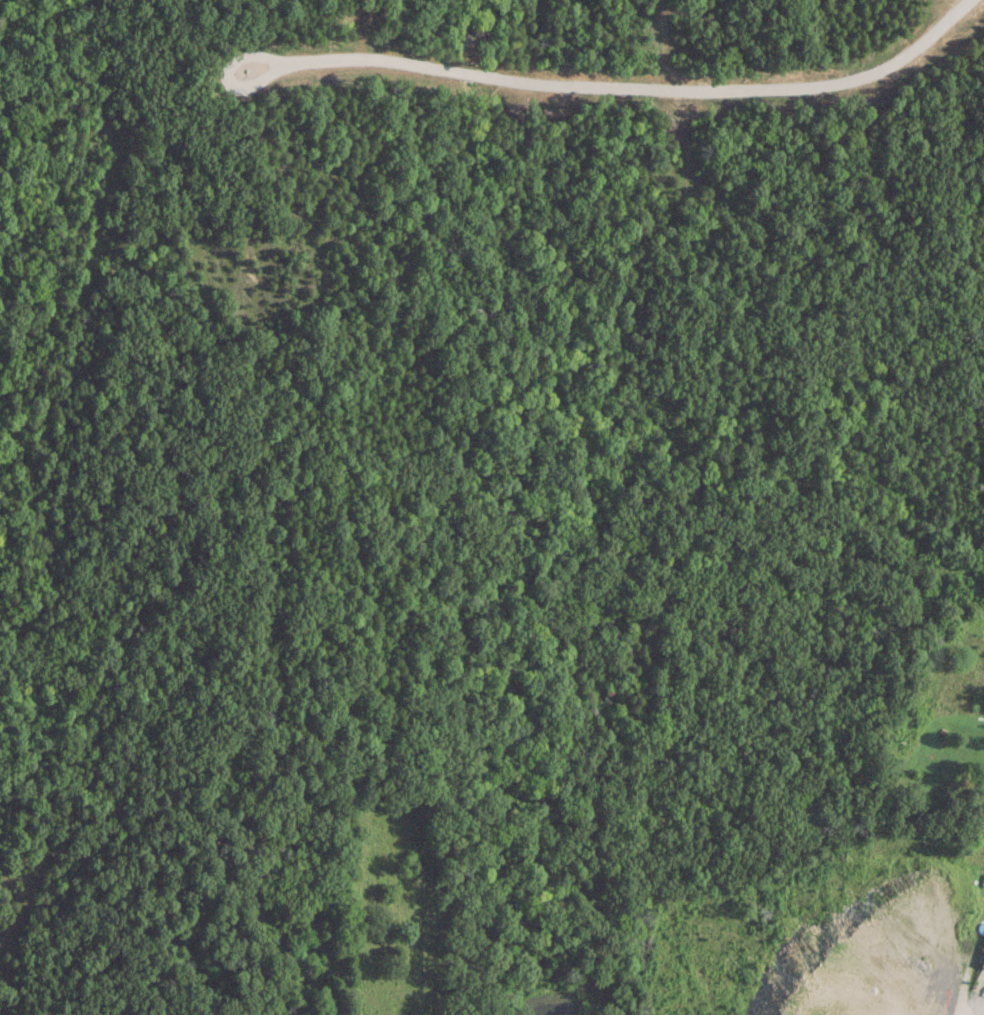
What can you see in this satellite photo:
building: (975, 822)
building: (982, 963)
road: (977, 1000)

